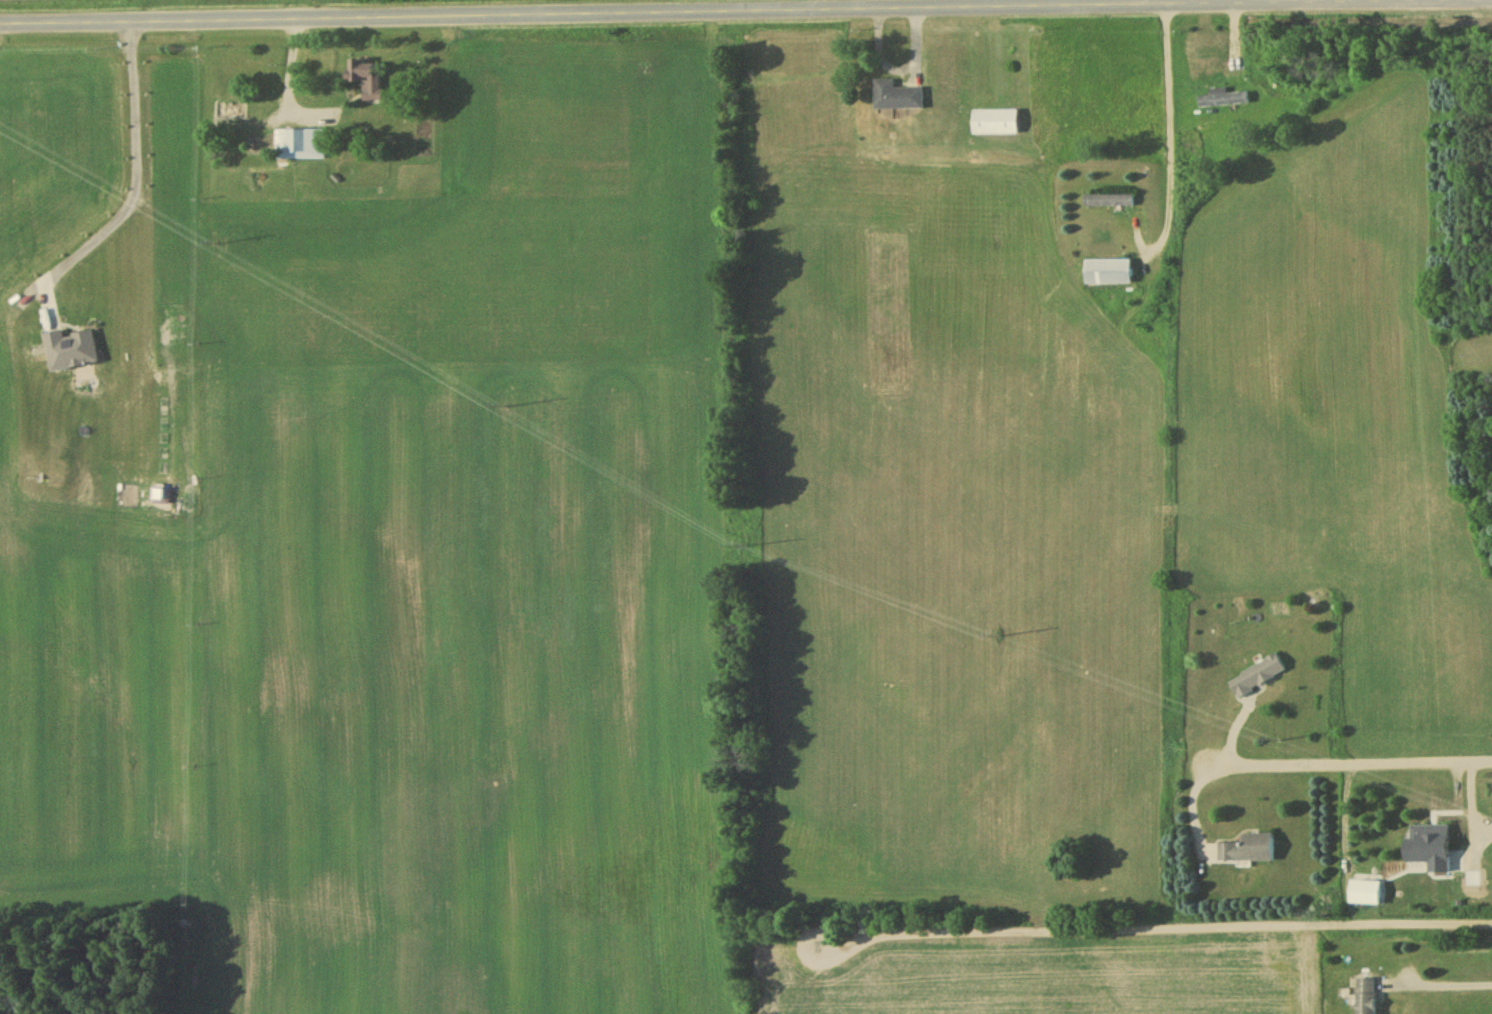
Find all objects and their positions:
road: (746, 12)
road: (289, 77)
building: (366, 80)
building: (898, 98)
building: (1222, 100)
building: (995, 124)
building: (303, 146)
road: (1170, 146)
road: (135, 167)
building: (1110, 203)
building: (1109, 275)
building: (1256, 678)
road: (1343, 761)
road: (1478, 793)
building: (1433, 843)
building: (1248, 850)
road: (1153, 927)
road: (1448, 984)
building: (1366, 997)

